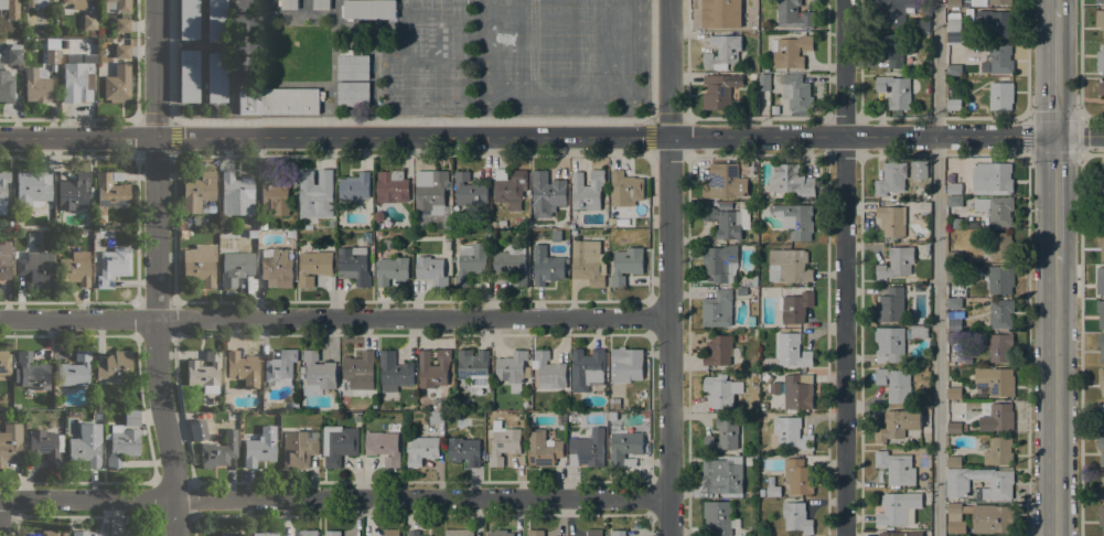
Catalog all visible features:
building: (1098, 1)
building: (999, 2)
building: (41, 3)
building: (75, 3)
building: (954, 3)
road: (1055, 3)
building: (288, 4)
building: (321, 4)
building: (10, 8)
building: (368, 9)
building: (894, 10)
building: (719, 12)
building: (124, 14)
building: (793, 14)
building: (968, 14)
building: (187, 19)
building: (215, 19)
building: (1100, 19)
building: (89, 21)
building: (996, 23)
building: (921, 25)
building: (955, 29)
building: (64, 43)
building: (891, 50)
building: (121, 51)
building: (789, 51)
building: (721, 52)
building: (14, 53)
building: (52, 55)
building: (1000, 58)
road: (1027, 58)
road: (1079, 58)
building: (1100, 60)
building: (352, 66)
building: (953, 69)
road: (1055, 69)
building: (187, 75)
building: (215, 76)
building: (752, 76)
building: (77, 78)
building: (117, 82)
building: (764, 82)
building: (36, 84)
building: (6, 86)
building: (1101, 86)
building: (896, 90)
building: (719, 92)
building: (795, 93)
building: (353, 94)
building: (1000, 96)
building: (278, 100)
building: (953, 105)
building: (774, 109)
road: (1027, 117)
road: (409, 120)
traffic signals: (1055, 135)
road: (551, 136)
road: (173, 137)
road: (650, 137)
building: (992, 176)
building: (891, 178)
building: (724, 181)
building: (791, 181)
building: (1101, 182)
building: (354, 186)
building: (390, 186)
building: (33, 187)
building: (511, 189)
building: (624, 189)
building: (954, 189)
building: (2, 190)
building: (587, 190)
building: (73, 191)
building: (111, 191)
building: (197, 191)
building: (469, 191)
building: (313, 192)
building: (236, 194)
building: (546, 194)
building: (275, 197)
road: (1055, 199)
building: (431, 200)
building: (954, 201)
building: (995, 210)
building: (1101, 211)
building: (195, 219)
building: (892, 221)
building: (328, 222)
building: (727, 222)
building: (797, 223)
building: (956, 223)
building: (8, 224)
building: (261, 226)
building: (379, 226)
building: (103, 232)
building: (292, 233)
building: (378, 233)
building: (88, 234)
building: (182, 234)
building: (34, 237)
building: (1101, 244)
building: (1000, 246)
building: (954, 257)
building: (4, 259)
building: (470, 261)
building: (588, 261)
building: (719, 262)
building: (897, 262)
building: (199, 264)
building: (353, 265)
building: (511, 265)
building: (626, 265)
building: (112, 266)
building: (546, 266)
building: (789, 266)
building: (235, 267)
building: (313, 267)
road: (844, 267)
road: (156, 268)
building: (276, 268)
road: (668, 268)
road: (935, 268)
building: (35, 269)
building: (74, 269)
building: (392, 270)
building: (431, 270)
building: (954, 274)
building: (1000, 279)
building: (744, 280)
building: (1100, 280)
building: (754, 282)
building: (741, 291)
building: (954, 303)
building: (890, 305)
building: (795, 307)
building: (717, 309)
building: (1000, 313)
building: (1101, 313)
road: (334, 318)
building: (956, 321)
building: (919, 331)
building: (953, 337)
building: (890, 344)
road: (1027, 344)
road: (1080, 345)
building: (1101, 346)
building: (1000, 347)
building: (720, 351)
building: (793, 351)
building: (4, 362)
building: (115, 365)
building: (358, 365)
building: (625, 365)
building: (280, 366)
building: (243, 367)
building: (474, 367)
building: (433, 368)
building: (587, 368)
building: (74, 369)
building: (513, 369)
building: (32, 371)
building: (548, 371)
building: (204, 372)
building: (394, 372)
building: (318, 374)
building: (767, 378)
building: (1101, 378)
building: (996, 379)
building: (896, 384)
building: (98, 390)
building: (721, 390)
building: (798, 392)
building: (982, 392)
building: (954, 394)
road: (1055, 399)
building: (614, 403)
building: (396, 407)
building: (566, 407)
building: (1101, 415)
building: (613, 416)
building: (762, 416)
building: (131, 417)
building: (997, 417)
building: (436, 418)
building: (572, 418)
building: (898, 424)
building: (955, 427)
building: (197, 430)
building: (724, 435)
building: (787, 435)
building: (10, 442)
building: (122, 443)
building: (339, 443)
building: (503, 443)
building: (46, 446)
building: (260, 447)
building: (384, 447)
building: (624, 447)
building: (85, 448)
building: (587, 448)
building: (298, 449)
building: (422, 449)
building: (542, 449)
building: (1101, 449)
building: (218, 450)
building: (464, 451)
building: (998, 451)
building: (954, 462)
building: (896, 468)
building: (724, 474)
building: (797, 476)
building: (1100, 484)
building: (773, 491)
building: (996, 491)
building: (752, 493)
building: (762, 494)
road: (333, 499)
building: (901, 507)
road: (1, 517)
building: (719, 517)
building: (796, 517)
building: (1101, 517)
building: (955, 518)
building: (993, 518)
building: (918, 525)
building: (50, 533)
building: (64, 533)
building: (79, 533)
building: (138, 533)
building: (226, 533)
building: (266, 533)
building: (309, 533)
building: (333, 533)
building: (392, 533)
building: (414, 533)
building: (459, 533)
building: (500, 533)
building: (536, 533)
building: (594, 533)
building: (618, 533)
building: (900, 534)

